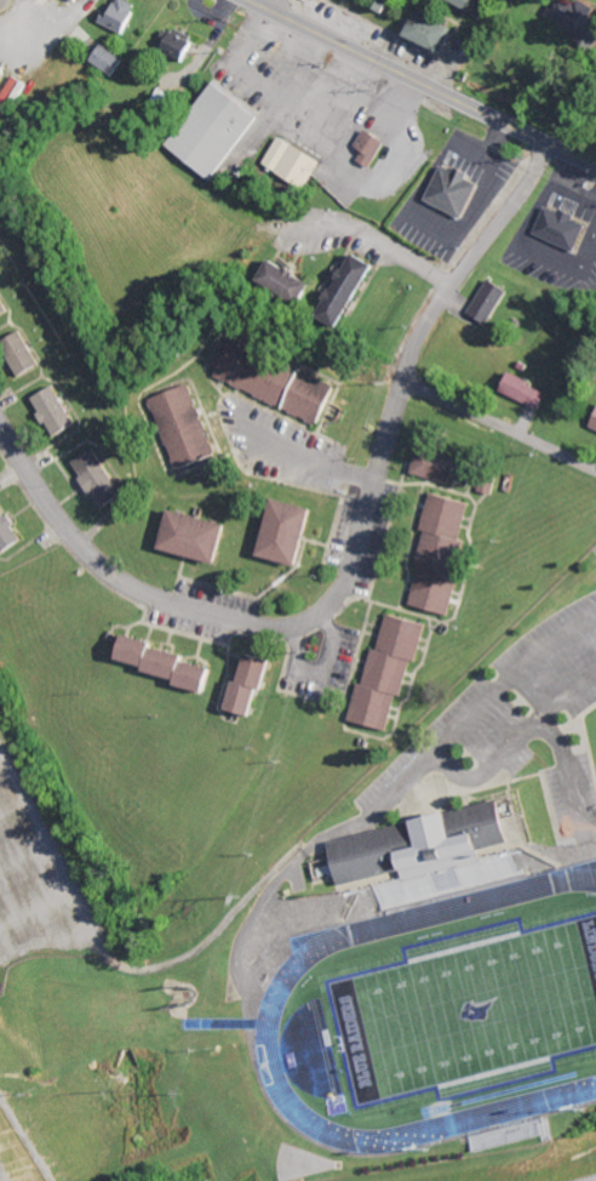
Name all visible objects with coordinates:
building: (84, 0)
road: (259, 2)
building: (388, 4)
building: (477, 5)
building: (125, 15)
building: (577, 19)
building: (434, 33)
building: (180, 44)
building: (114, 59)
building: (2, 72)
road: (422, 85)
building: (15, 93)
building: (217, 130)
building: (373, 147)
building: (293, 161)
building: (457, 190)
building: (565, 228)
road: (382, 244)
building: (288, 281)
building: (351, 290)
building: (491, 301)
building: (4, 306)
building: (25, 354)
building: (276, 381)
building: (527, 392)
building: (58, 411)
road: (498, 424)
building: (187, 427)
building: (595, 427)
road: (303, 455)
building: (436, 464)
building: (102, 478)
building: (491, 481)
building: (10, 531)
building: (292, 532)
building: (200, 536)
building: (442, 550)
road: (346, 563)
building: (171, 663)
building: (391, 673)
building: (254, 685)
road: (472, 711)
road: (515, 741)
road: (568, 774)
building: (422, 845)
track: (271, 997)
park: (463, 1010)
power substation: (16, 1152)

